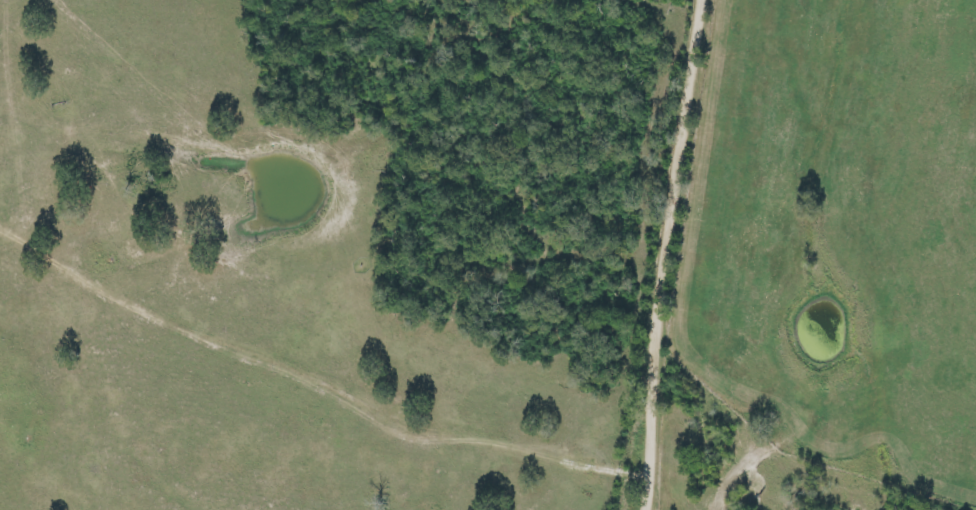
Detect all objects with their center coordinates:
road: (344, 129)
road: (670, 253)

